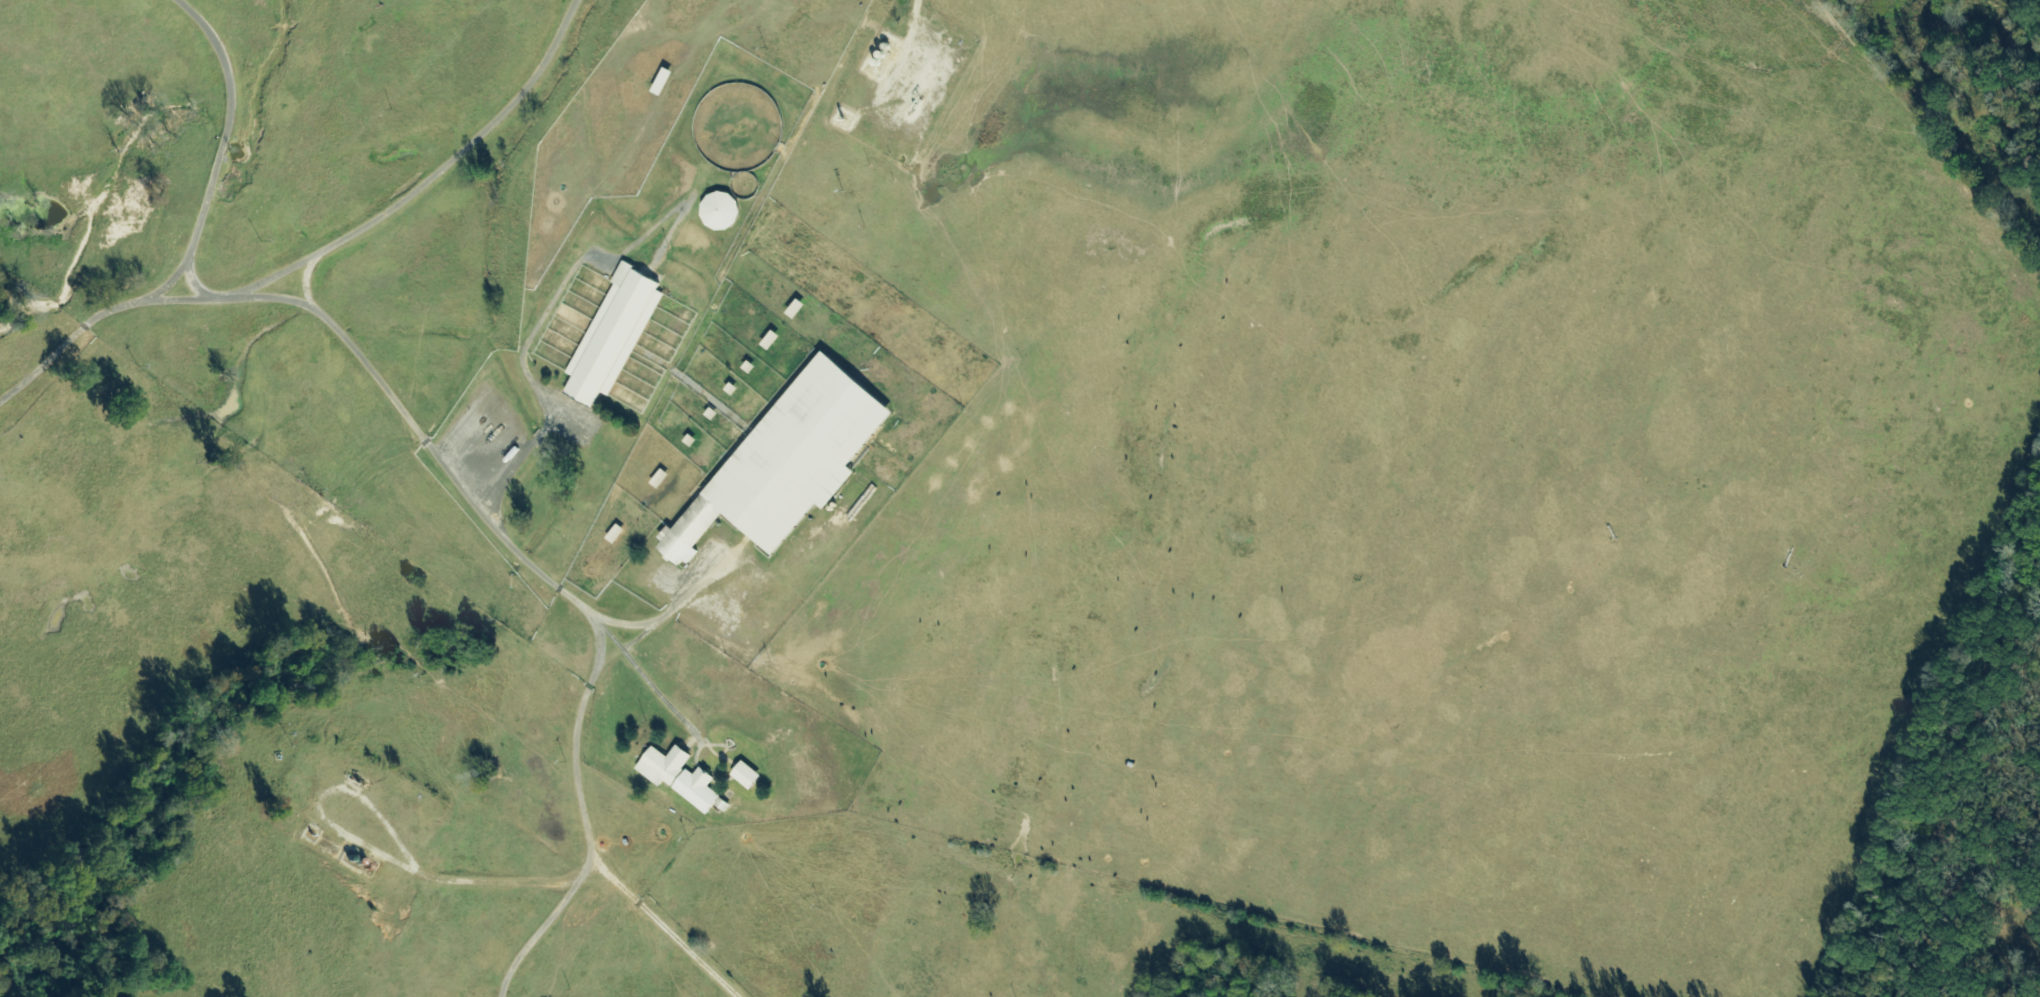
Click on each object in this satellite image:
petroleum well: (915, 102)
building: (717, 211)
road: (278, 272)
road: (86, 328)
building: (612, 335)
building: (784, 462)
building: (743, 775)
building: (678, 778)

